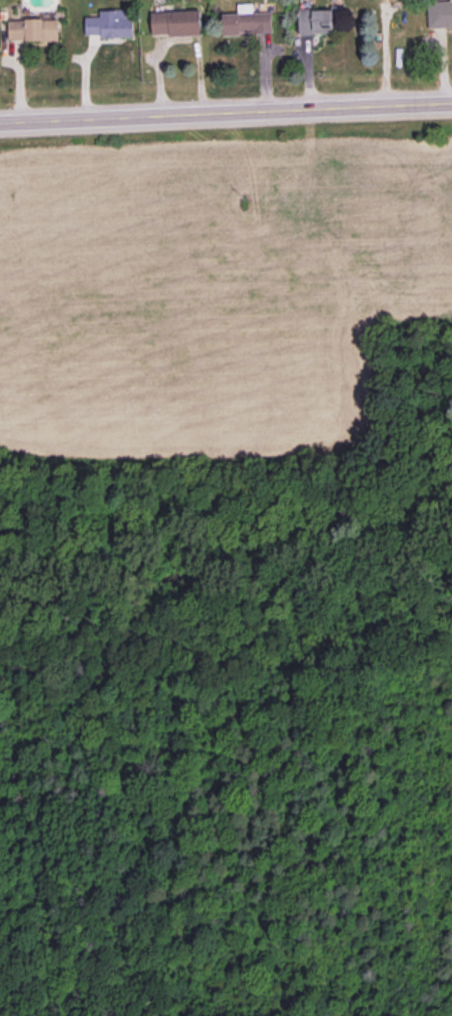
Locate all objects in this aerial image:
building: (439, 13)
building: (247, 20)
building: (315, 20)
building: (176, 22)
building: (110, 23)
building: (33, 29)
road: (226, 109)

